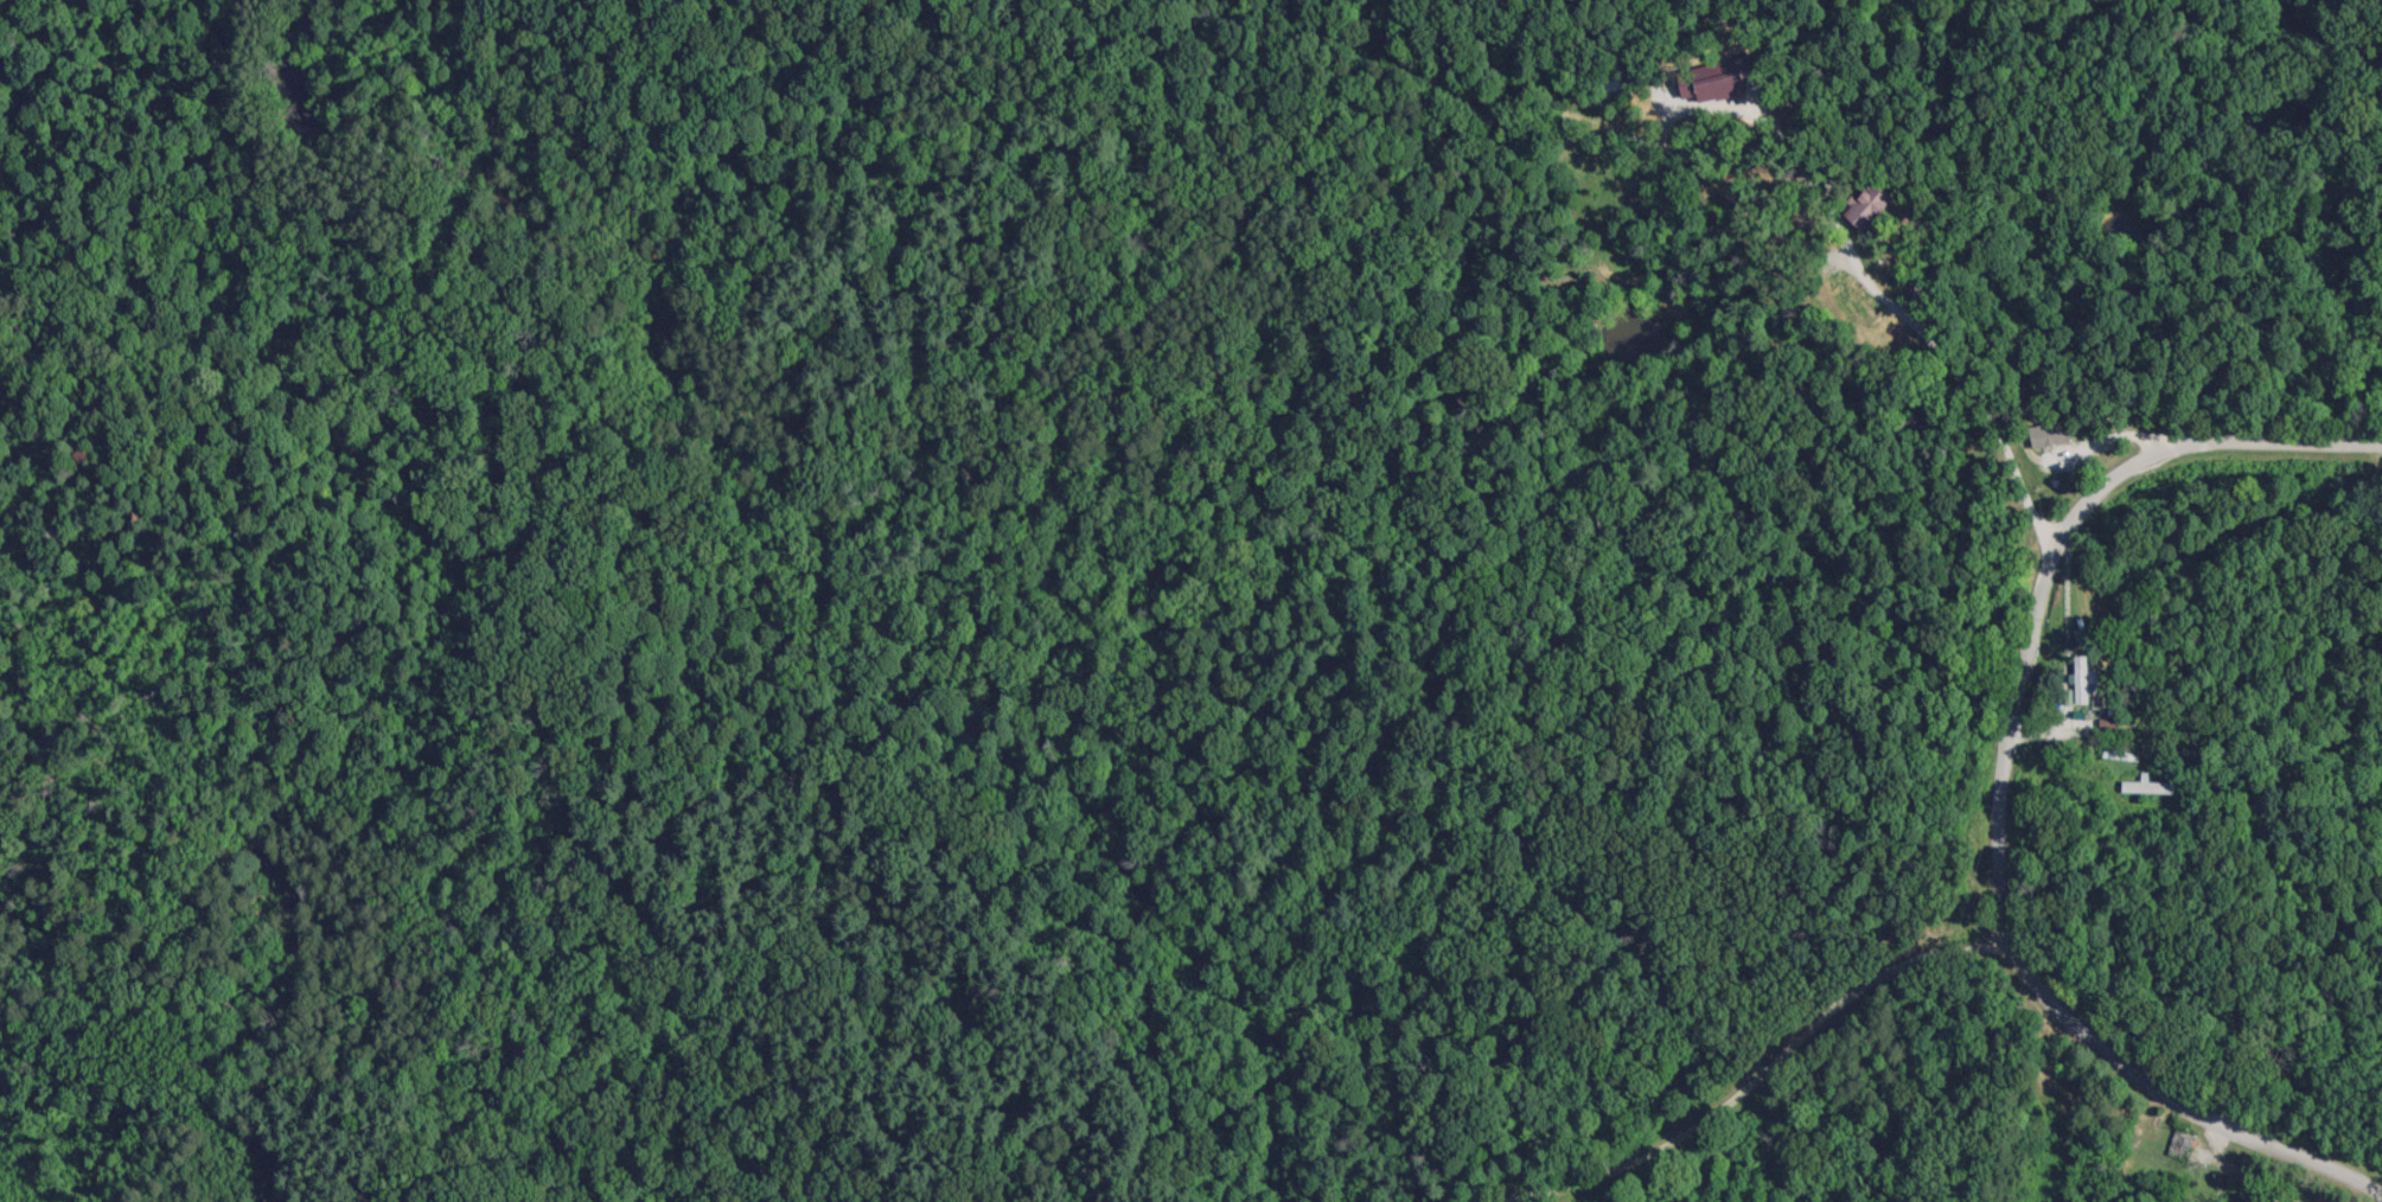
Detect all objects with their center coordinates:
building: (1871, 199)
road: (1969, 389)
building: (2051, 433)
road: (2307, 436)
road: (2035, 640)
building: (2080, 679)
road: (2063, 722)
building: (2148, 786)
road: (1806, 1032)
road: (2201, 1117)
building: (2182, 1144)

